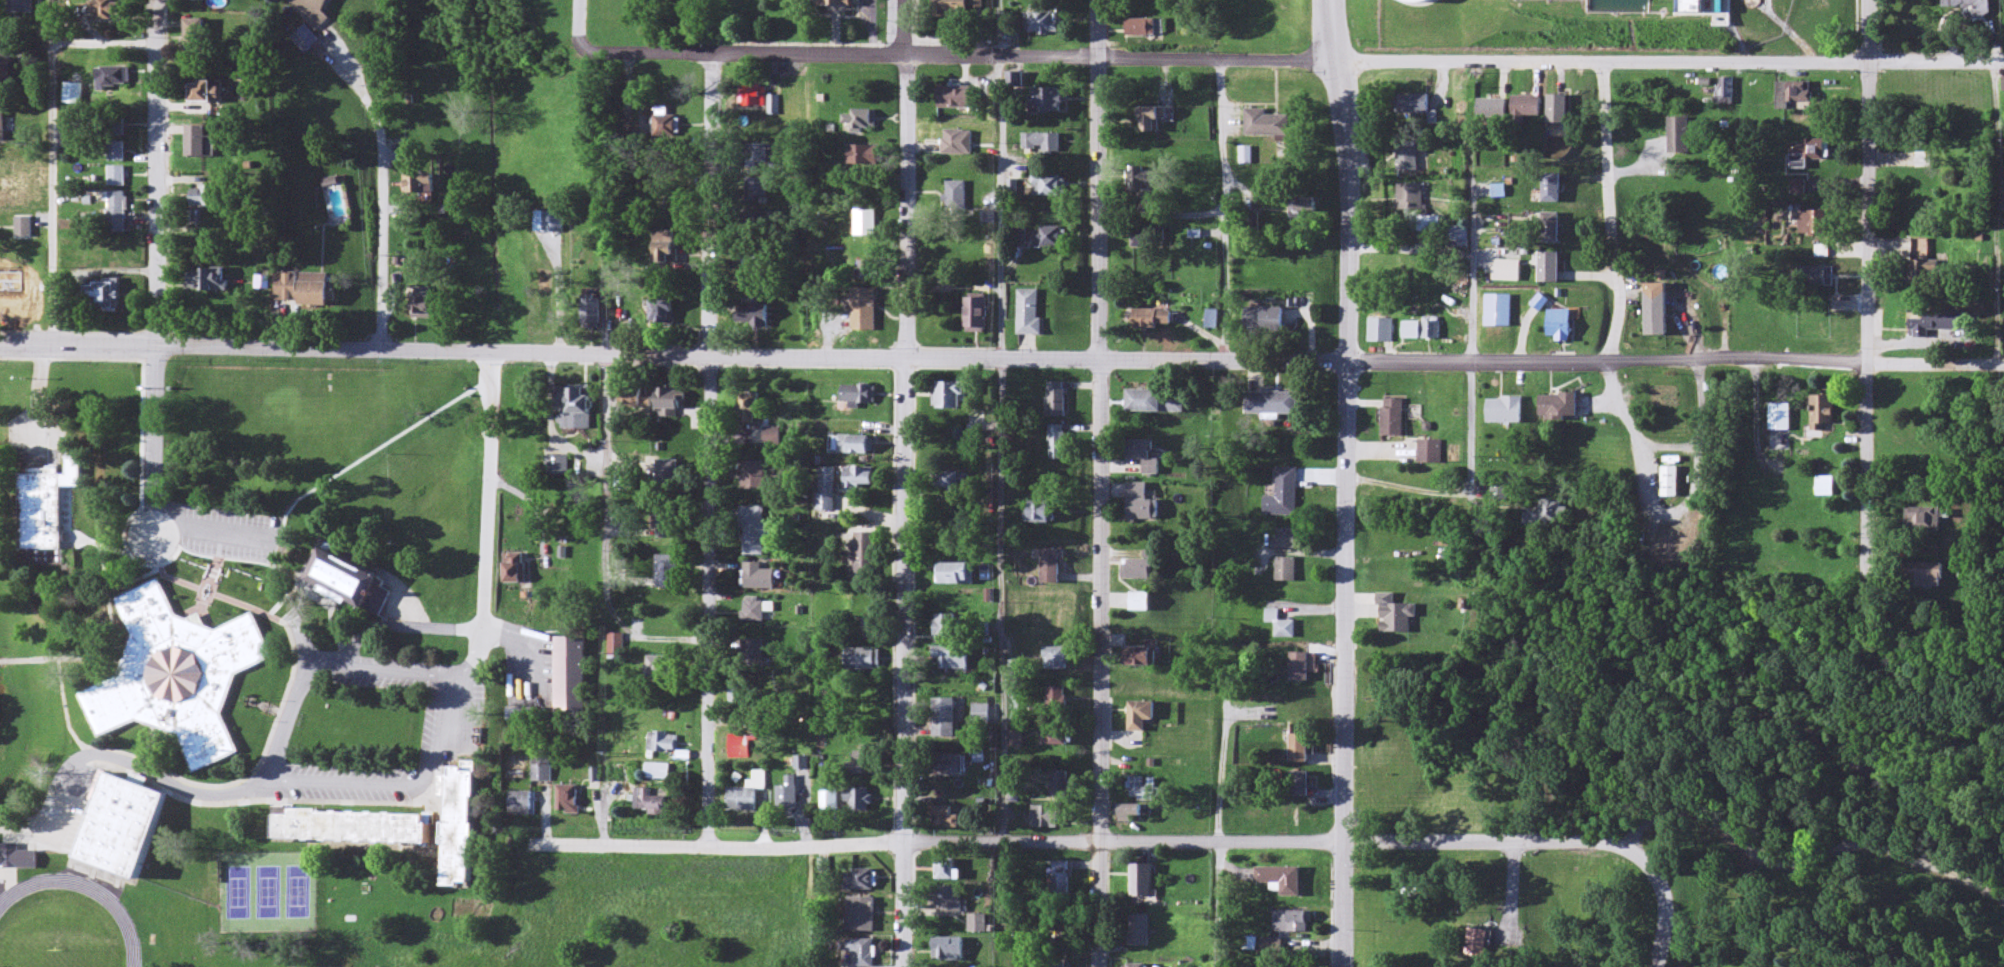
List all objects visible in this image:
building: (1973, 8)
road: (581, 25)
road: (999, 29)
road: (1294, 59)
road: (51, 143)
building: (1920, 170)
road: (157, 173)
road: (384, 208)
road: (1612, 228)
building: (1920, 262)
road: (103, 270)
road: (1862, 289)
road: (1346, 346)
road: (672, 355)
road: (1675, 364)
road: (708, 450)
road: (907, 483)
road: (1099, 483)
road: (1468, 489)
road: (488, 518)
road: (161, 554)
road: (389, 676)
road: (1773, 737)
road: (142, 773)
road: (347, 783)
park: (1686, 792)
building: (125, 815)
road: (1344, 830)
road: (1488, 841)
road: (929, 842)
road: (1807, 861)
park: (267, 893)
park: (298, 893)
park: (236, 894)
road: (1668, 901)
stadium: (81, 915)
park: (54, 957)

